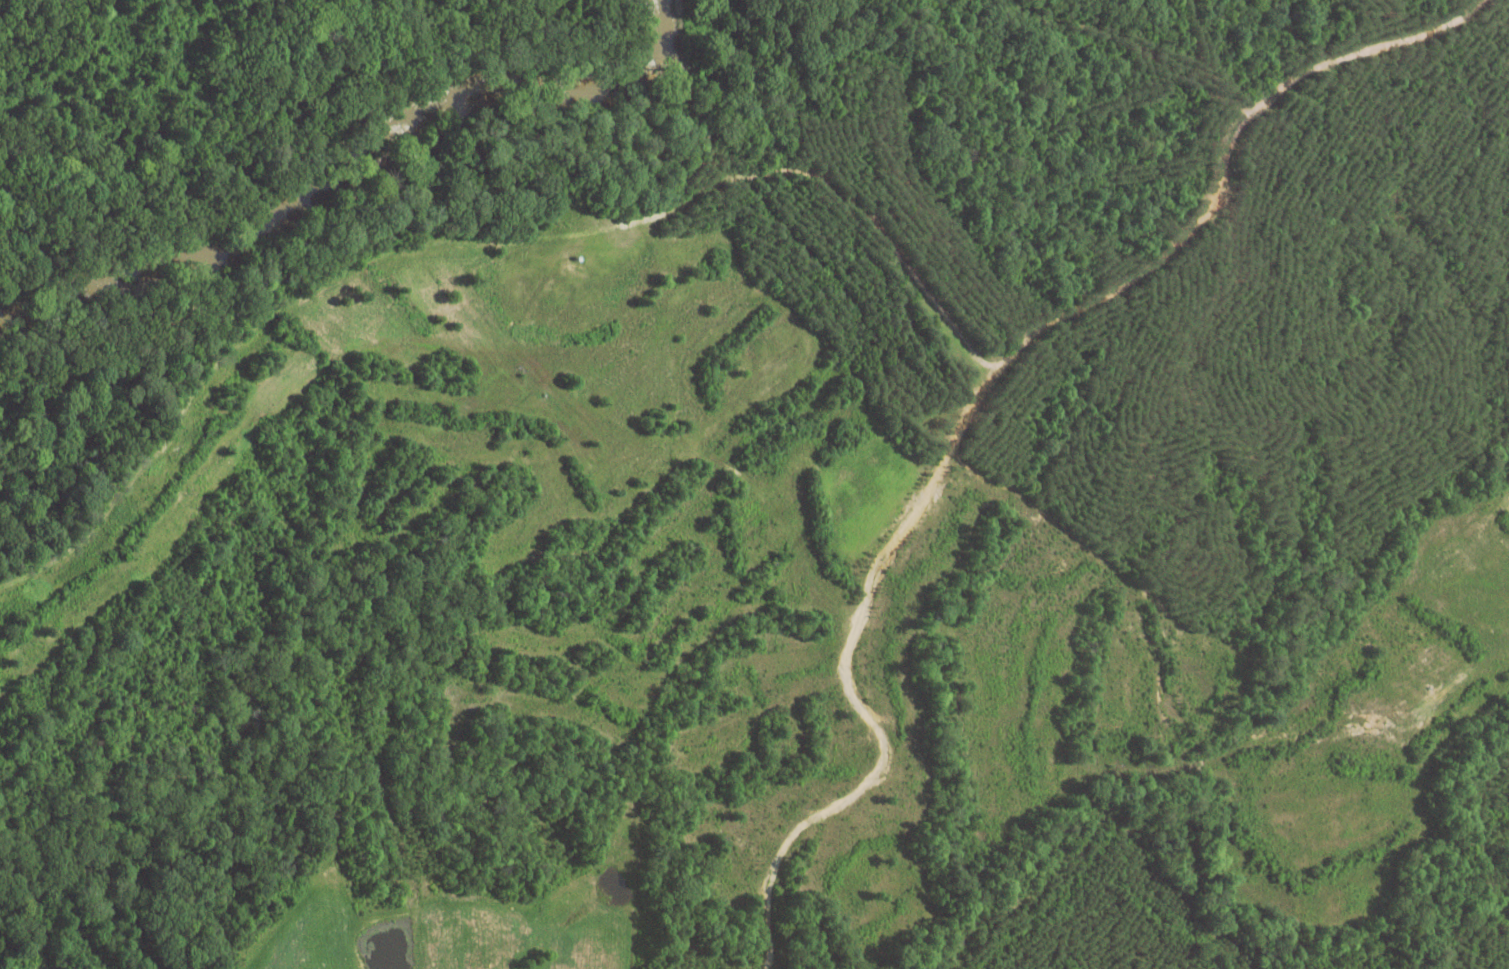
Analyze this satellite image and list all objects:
river: (362, 184)

